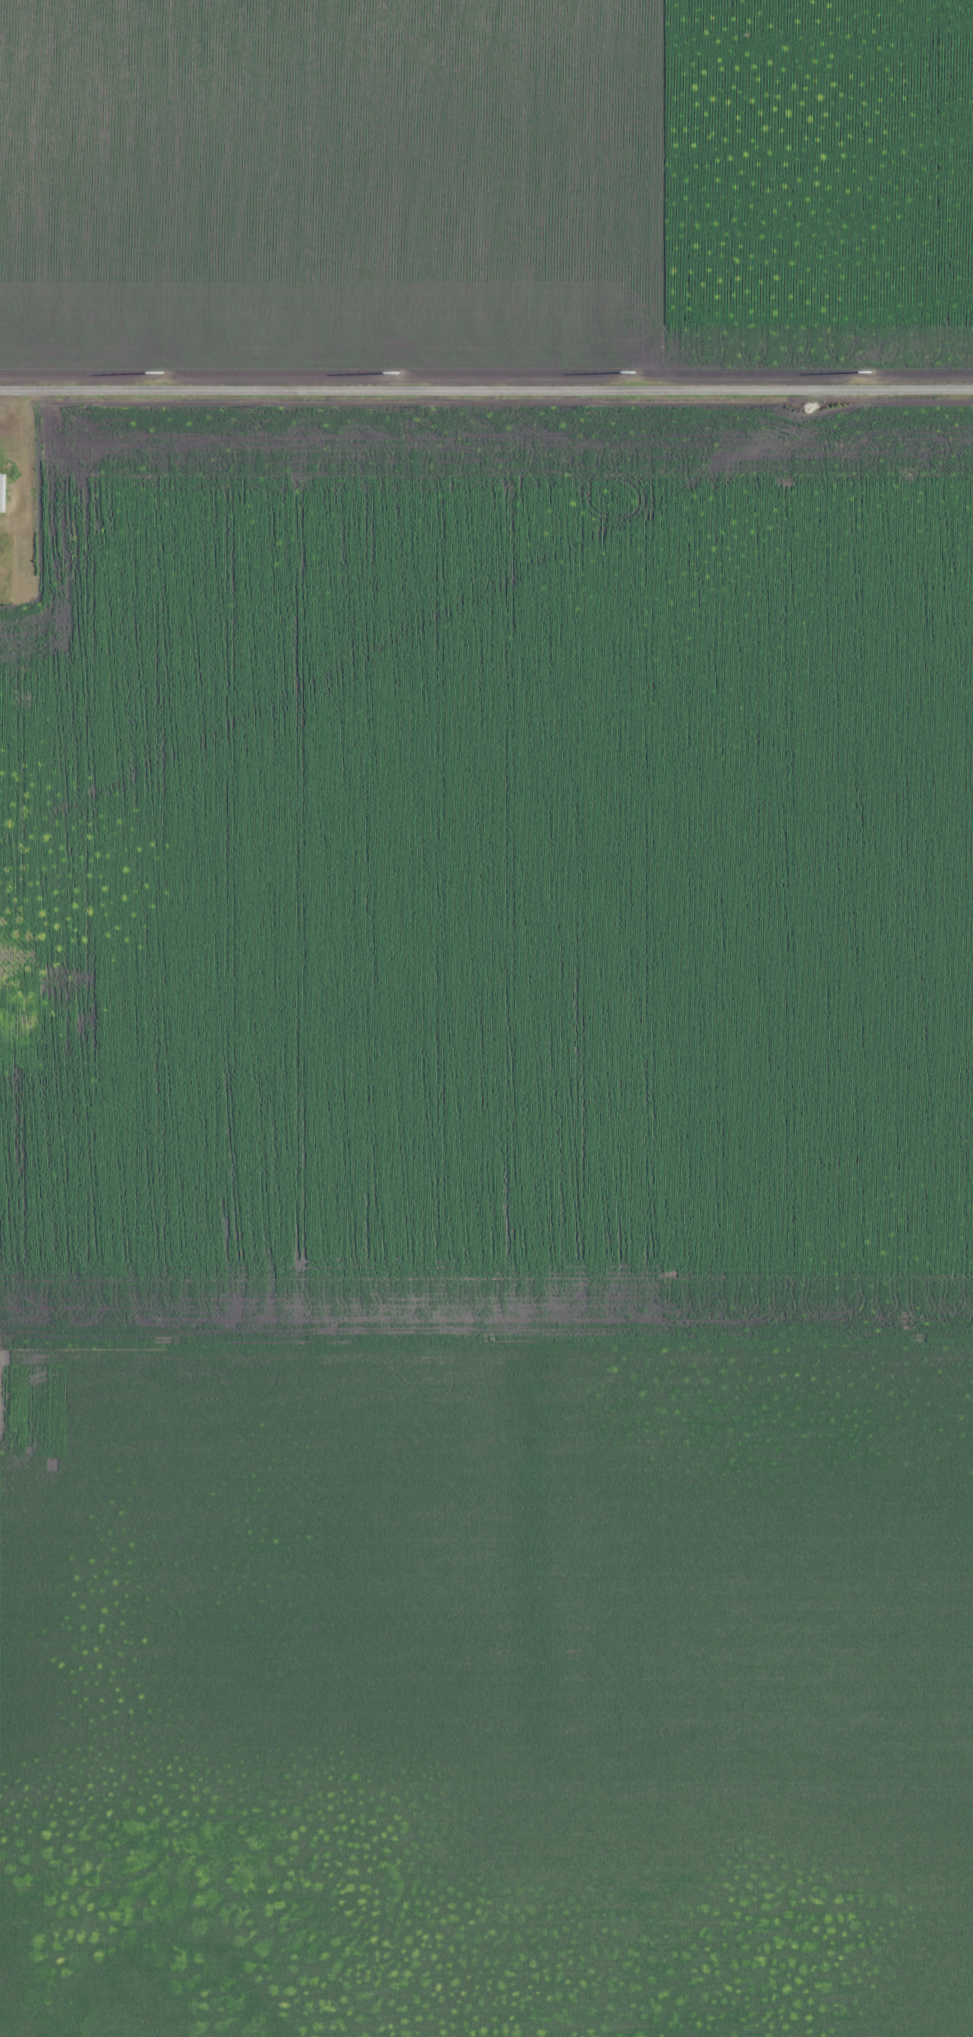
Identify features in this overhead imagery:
crop: (486, 188)
power tower: (164, 373)
power tower: (395, 373)
power tower: (633, 373)
power tower: (868, 373)
road: (486, 391)
building: (0, 459)
building: (2, 547)

